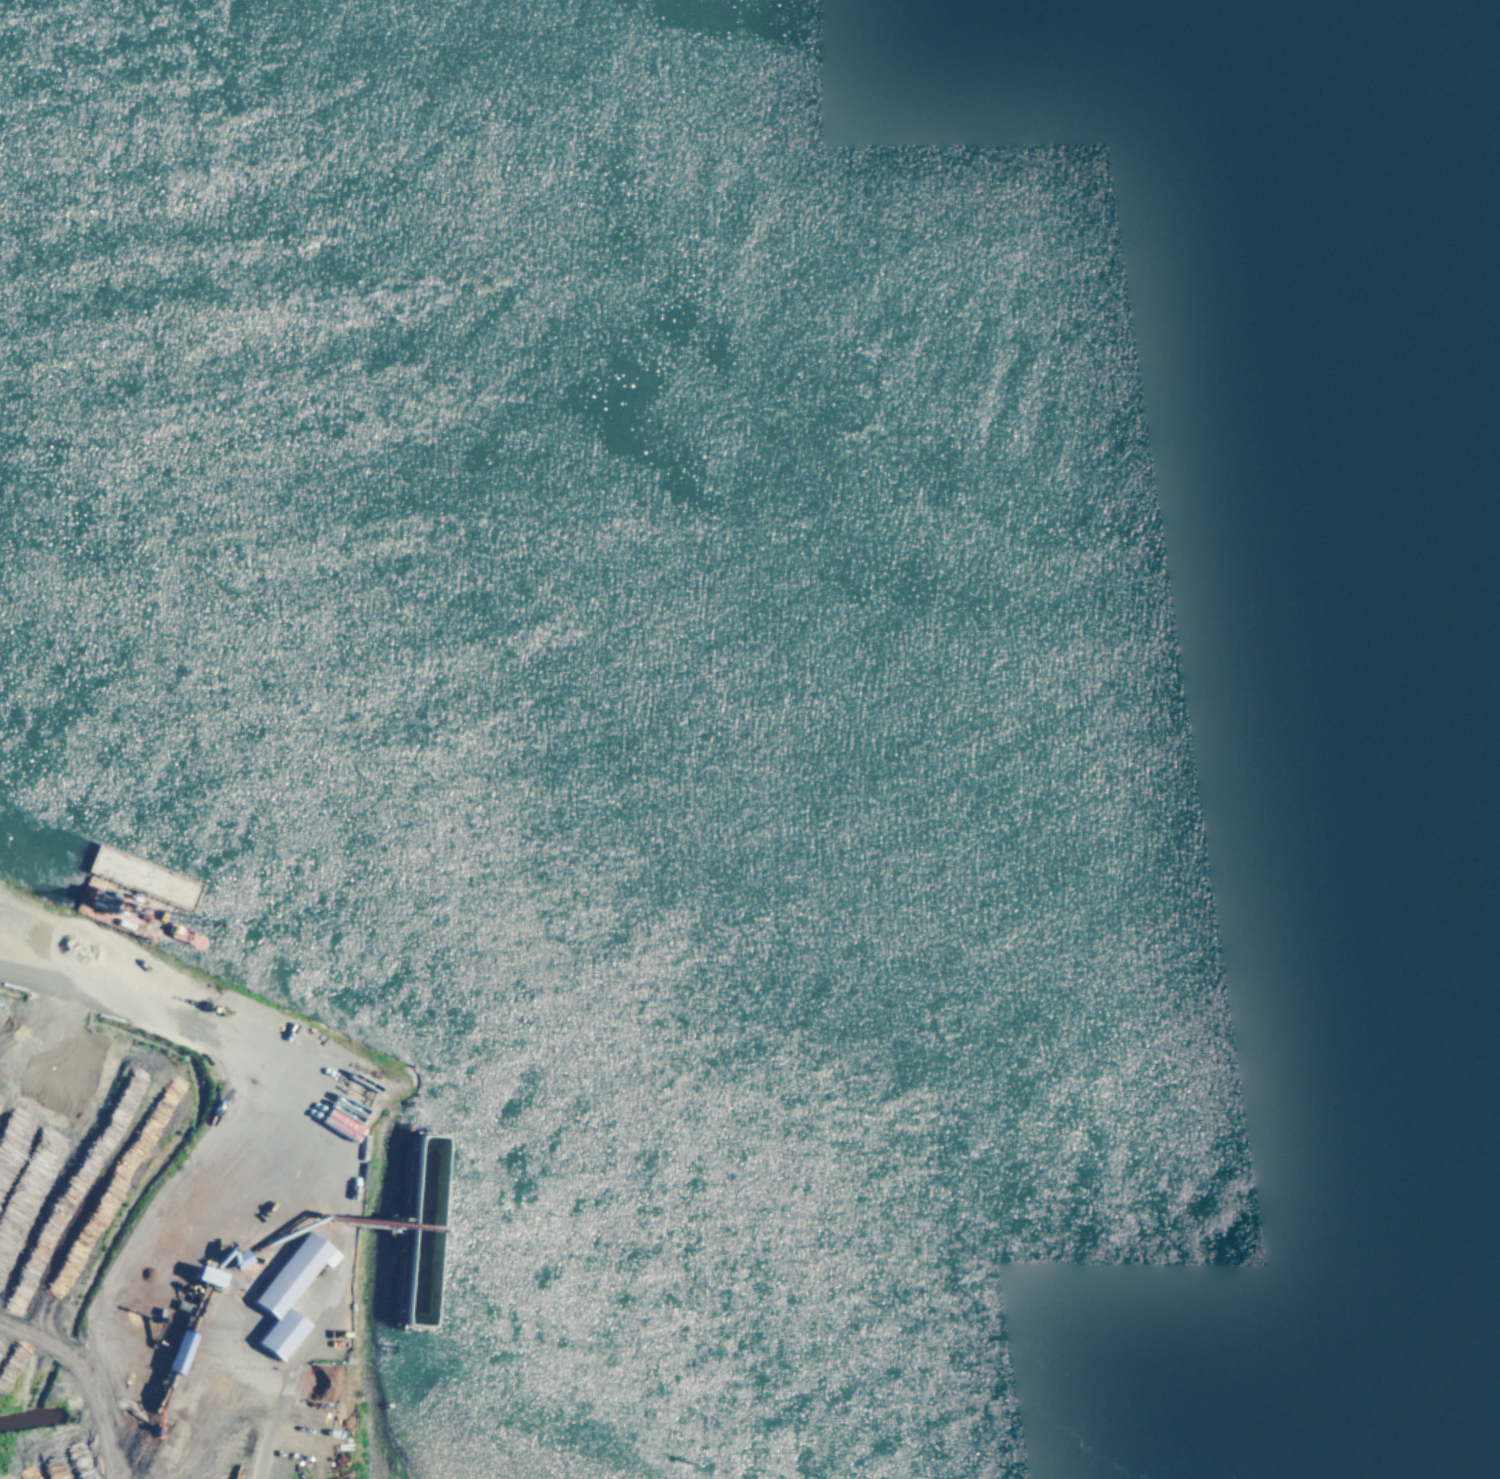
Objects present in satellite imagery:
river: (976, 404)
road: (312, 1125)
building: (424, 1152)
building: (149, 1192)
pier: (425, 1232)
building: (202, 1279)
pier: (428, 1280)
building: (286, 1296)
building: (174, 1354)
road: (88, 1374)
road: (238, 1415)

